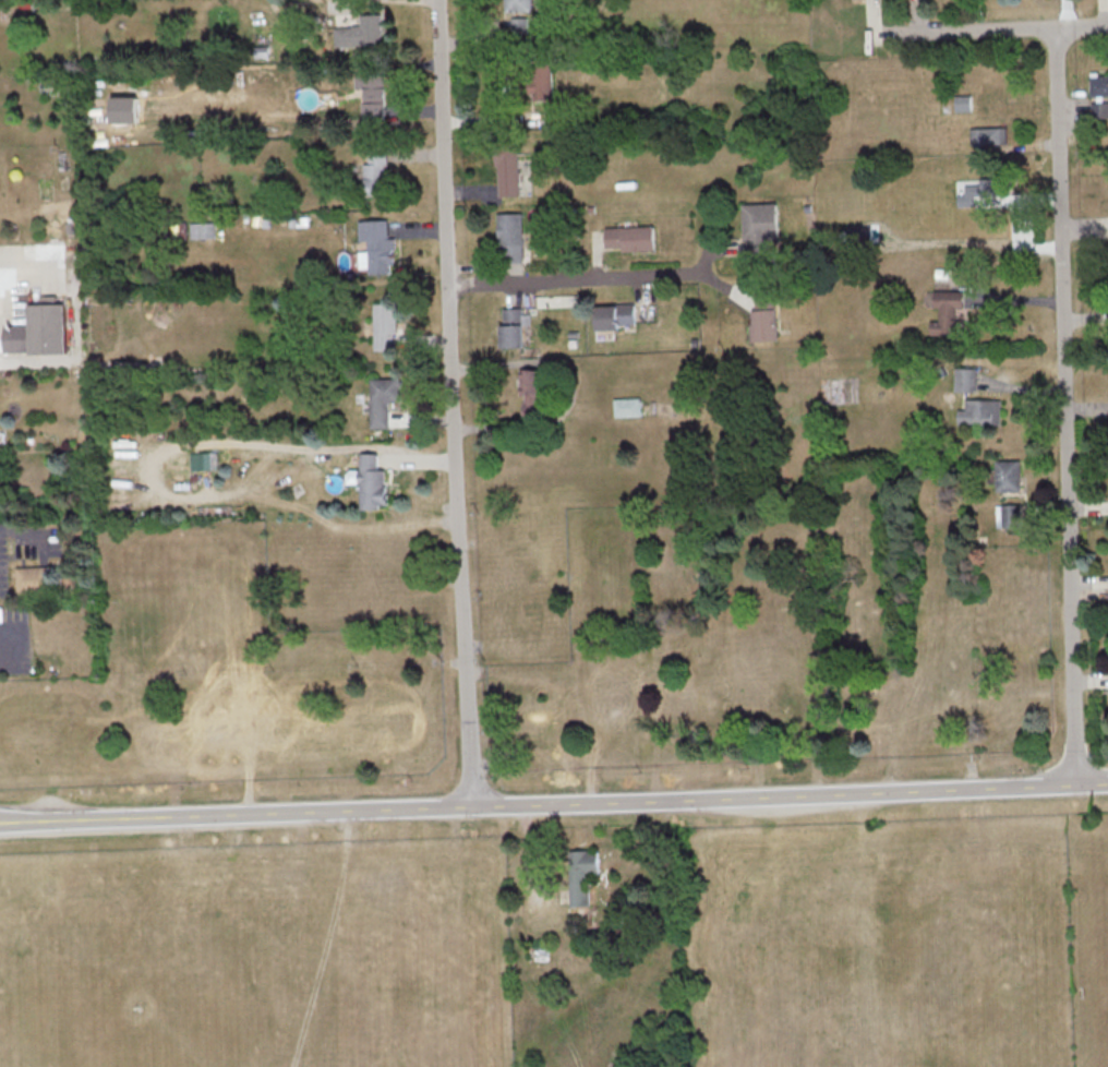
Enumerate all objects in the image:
building: (518, 5)
building: (521, 25)
road: (1000, 27)
building: (361, 32)
building: (540, 82)
building: (1098, 85)
building: (373, 95)
building: (963, 103)
building: (1099, 109)
building: (989, 135)
building: (508, 167)
building: (376, 172)
building: (980, 191)
building: (759, 226)
building: (204, 230)
building: (511, 235)
building: (630, 237)
building: (376, 247)
road: (578, 279)
building: (944, 304)
building: (615, 315)
building: (764, 315)
building: (385, 326)
building: (515, 326)
building: (39, 331)
building: (965, 377)
building: (531, 391)
building: (383, 399)
road: (453, 404)
road: (1064, 405)
building: (628, 407)
building: (983, 410)
road: (290, 447)
building: (1008, 475)
building: (370, 481)
building: (1008, 515)
road: (16, 535)
building: (32, 578)
road: (3, 648)
road: (554, 804)
building: (581, 874)
park: (1088, 925)

